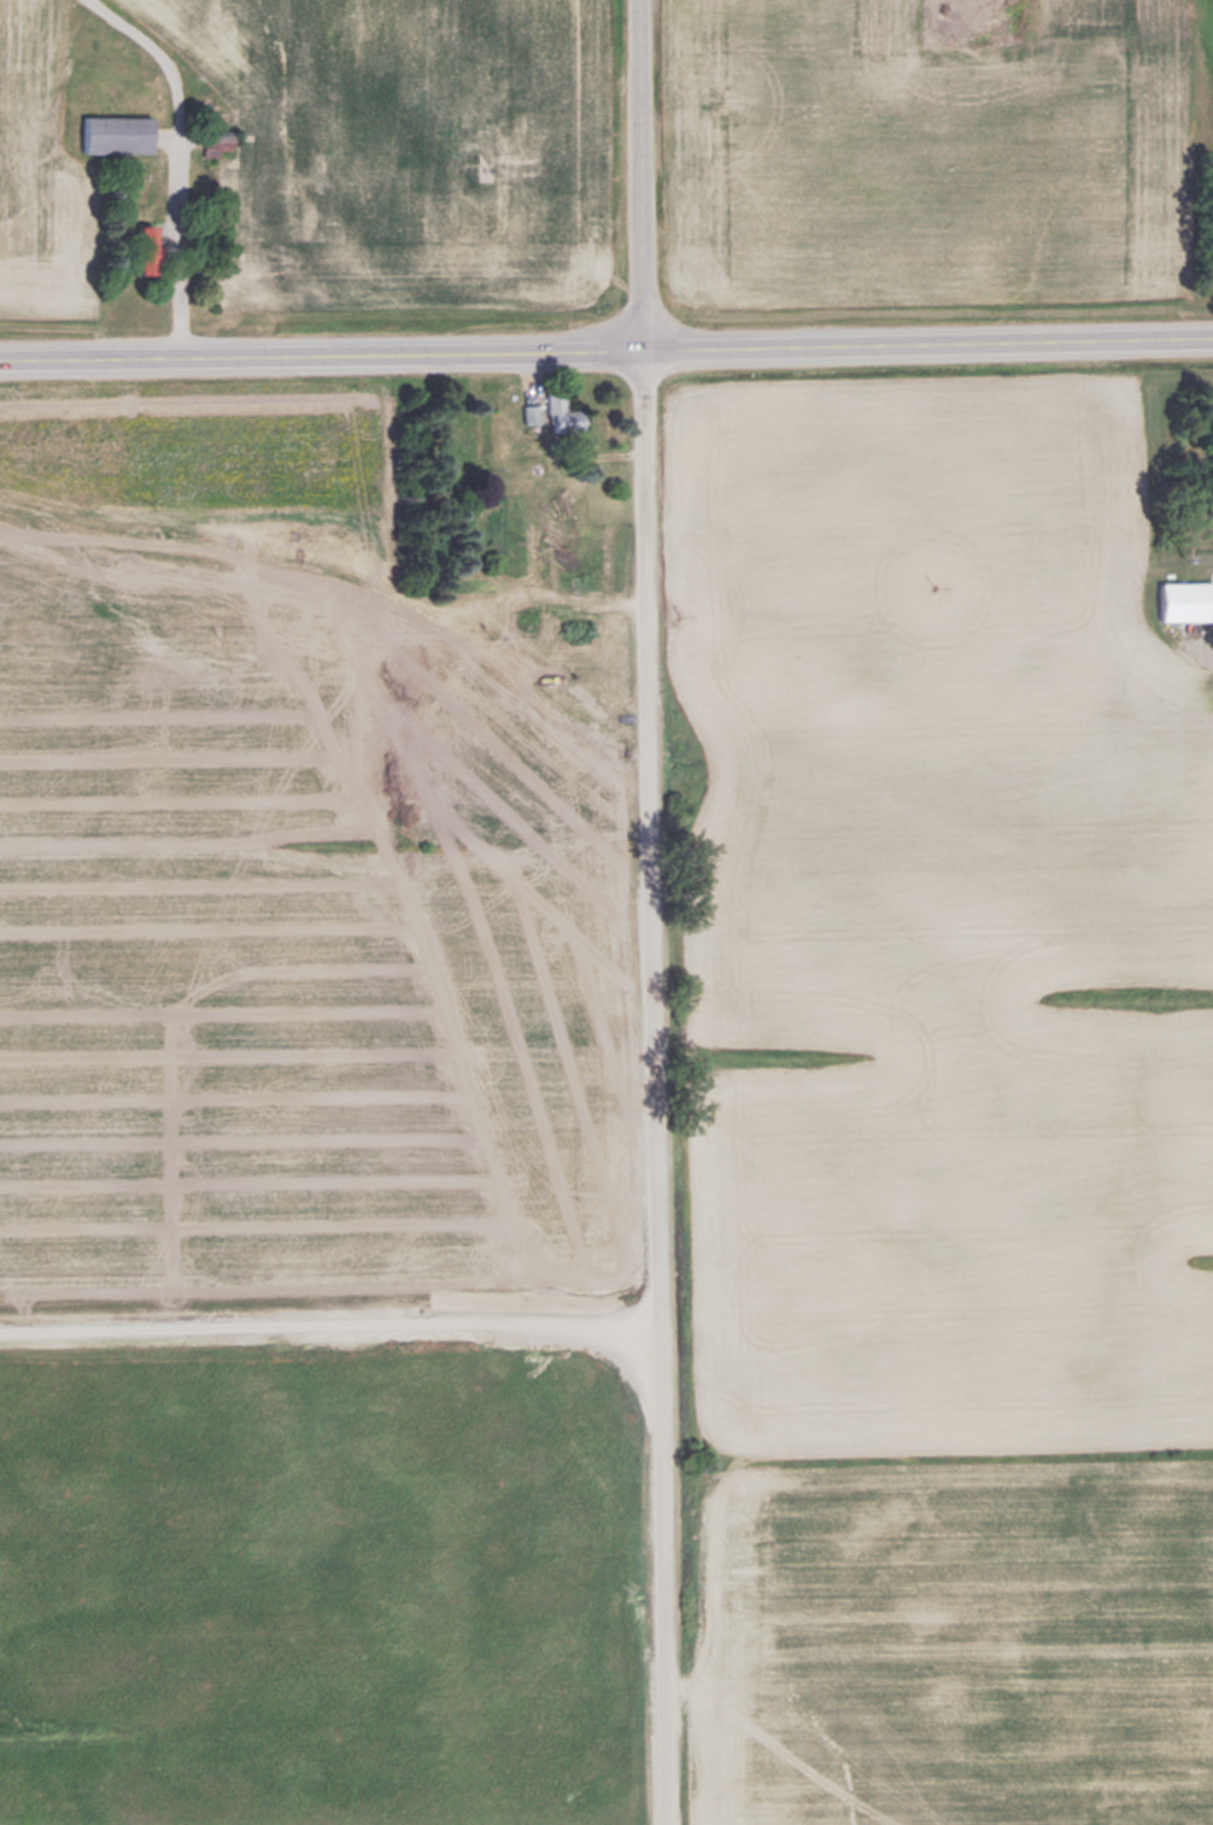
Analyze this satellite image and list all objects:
building: (119, 133)
road: (637, 174)
building: (146, 248)
road: (605, 347)
building: (566, 413)
building: (531, 417)
building: (1206, 468)
building: (1180, 599)
road: (658, 1085)

